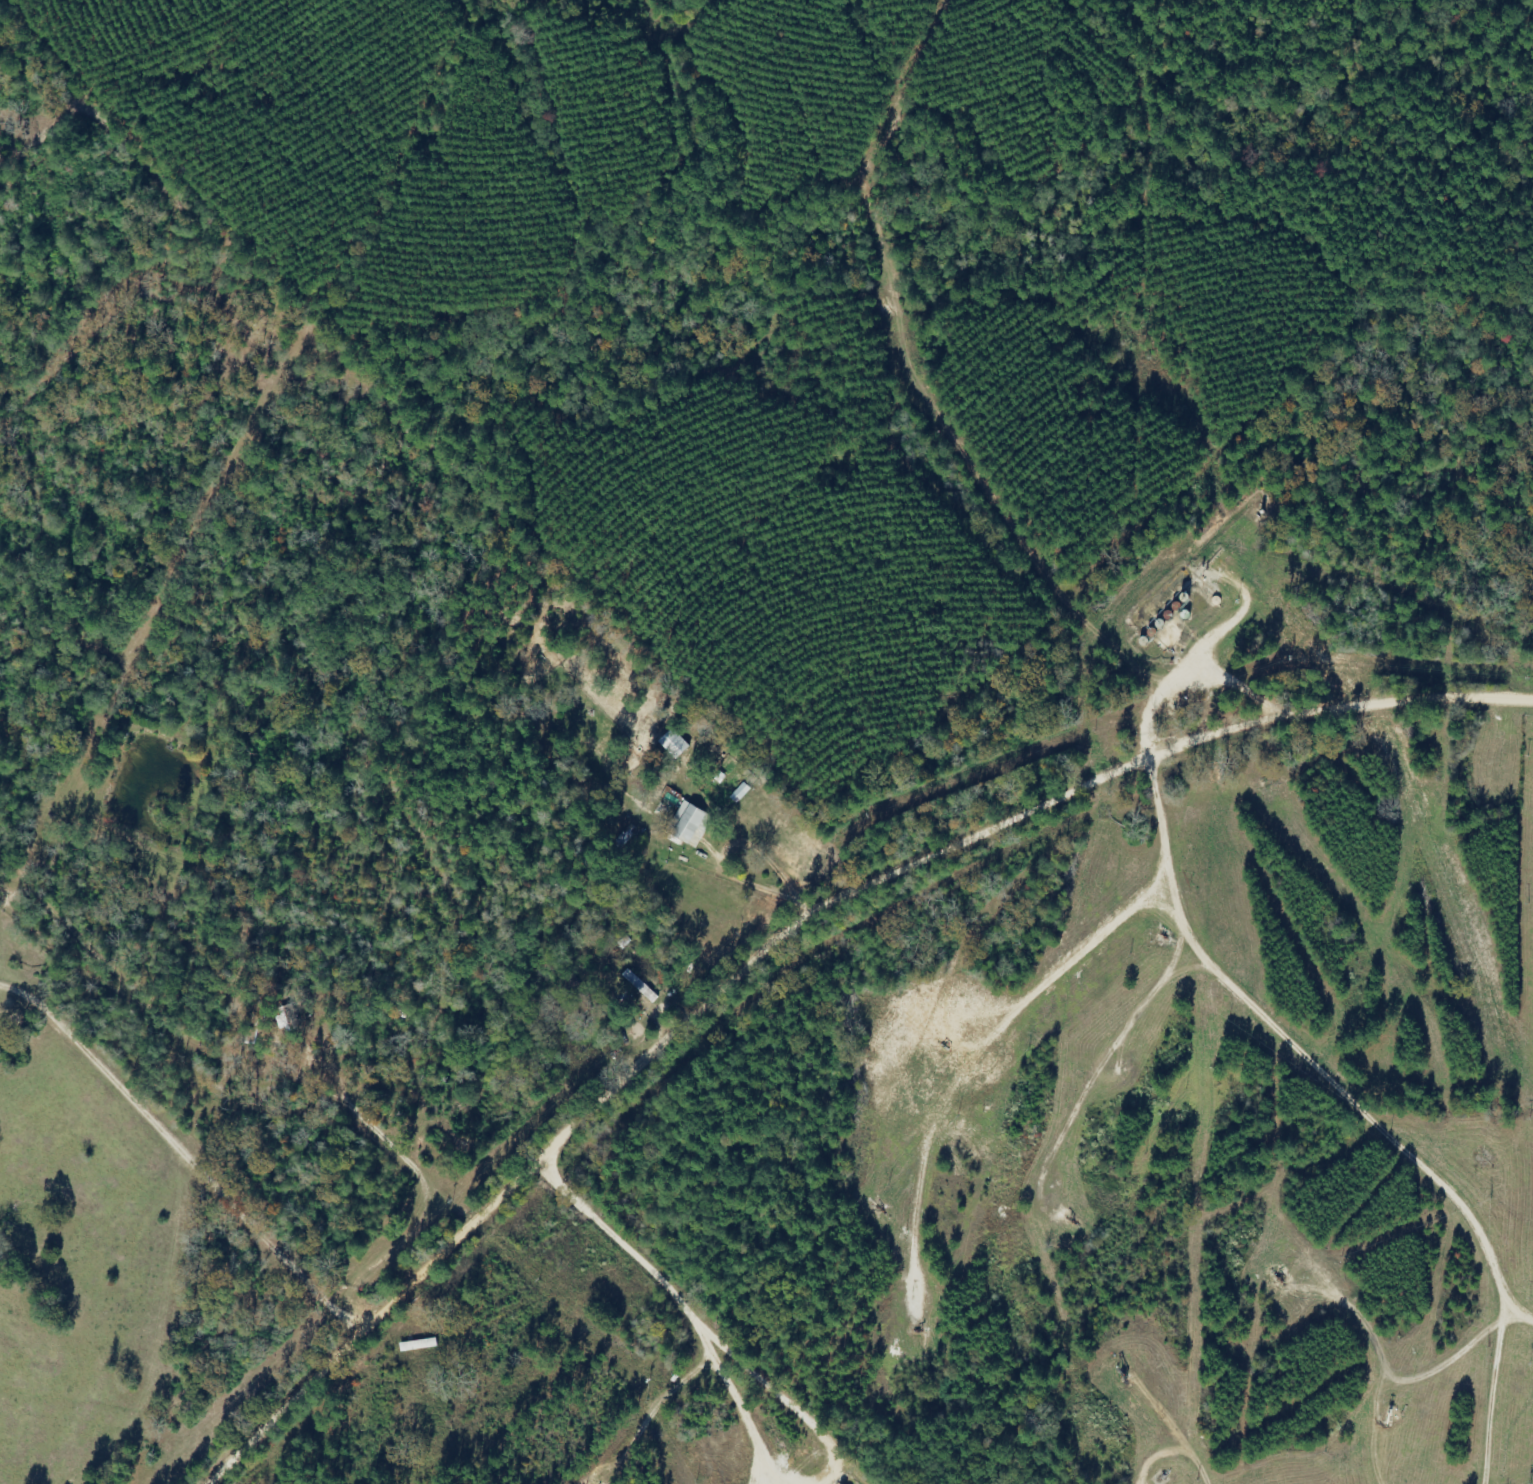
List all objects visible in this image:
building: (675, 744)
building: (742, 793)
road: (806, 946)
road: (1435, 1109)
road: (465, 1118)
road: (694, 1312)
road: (1133, 1435)

